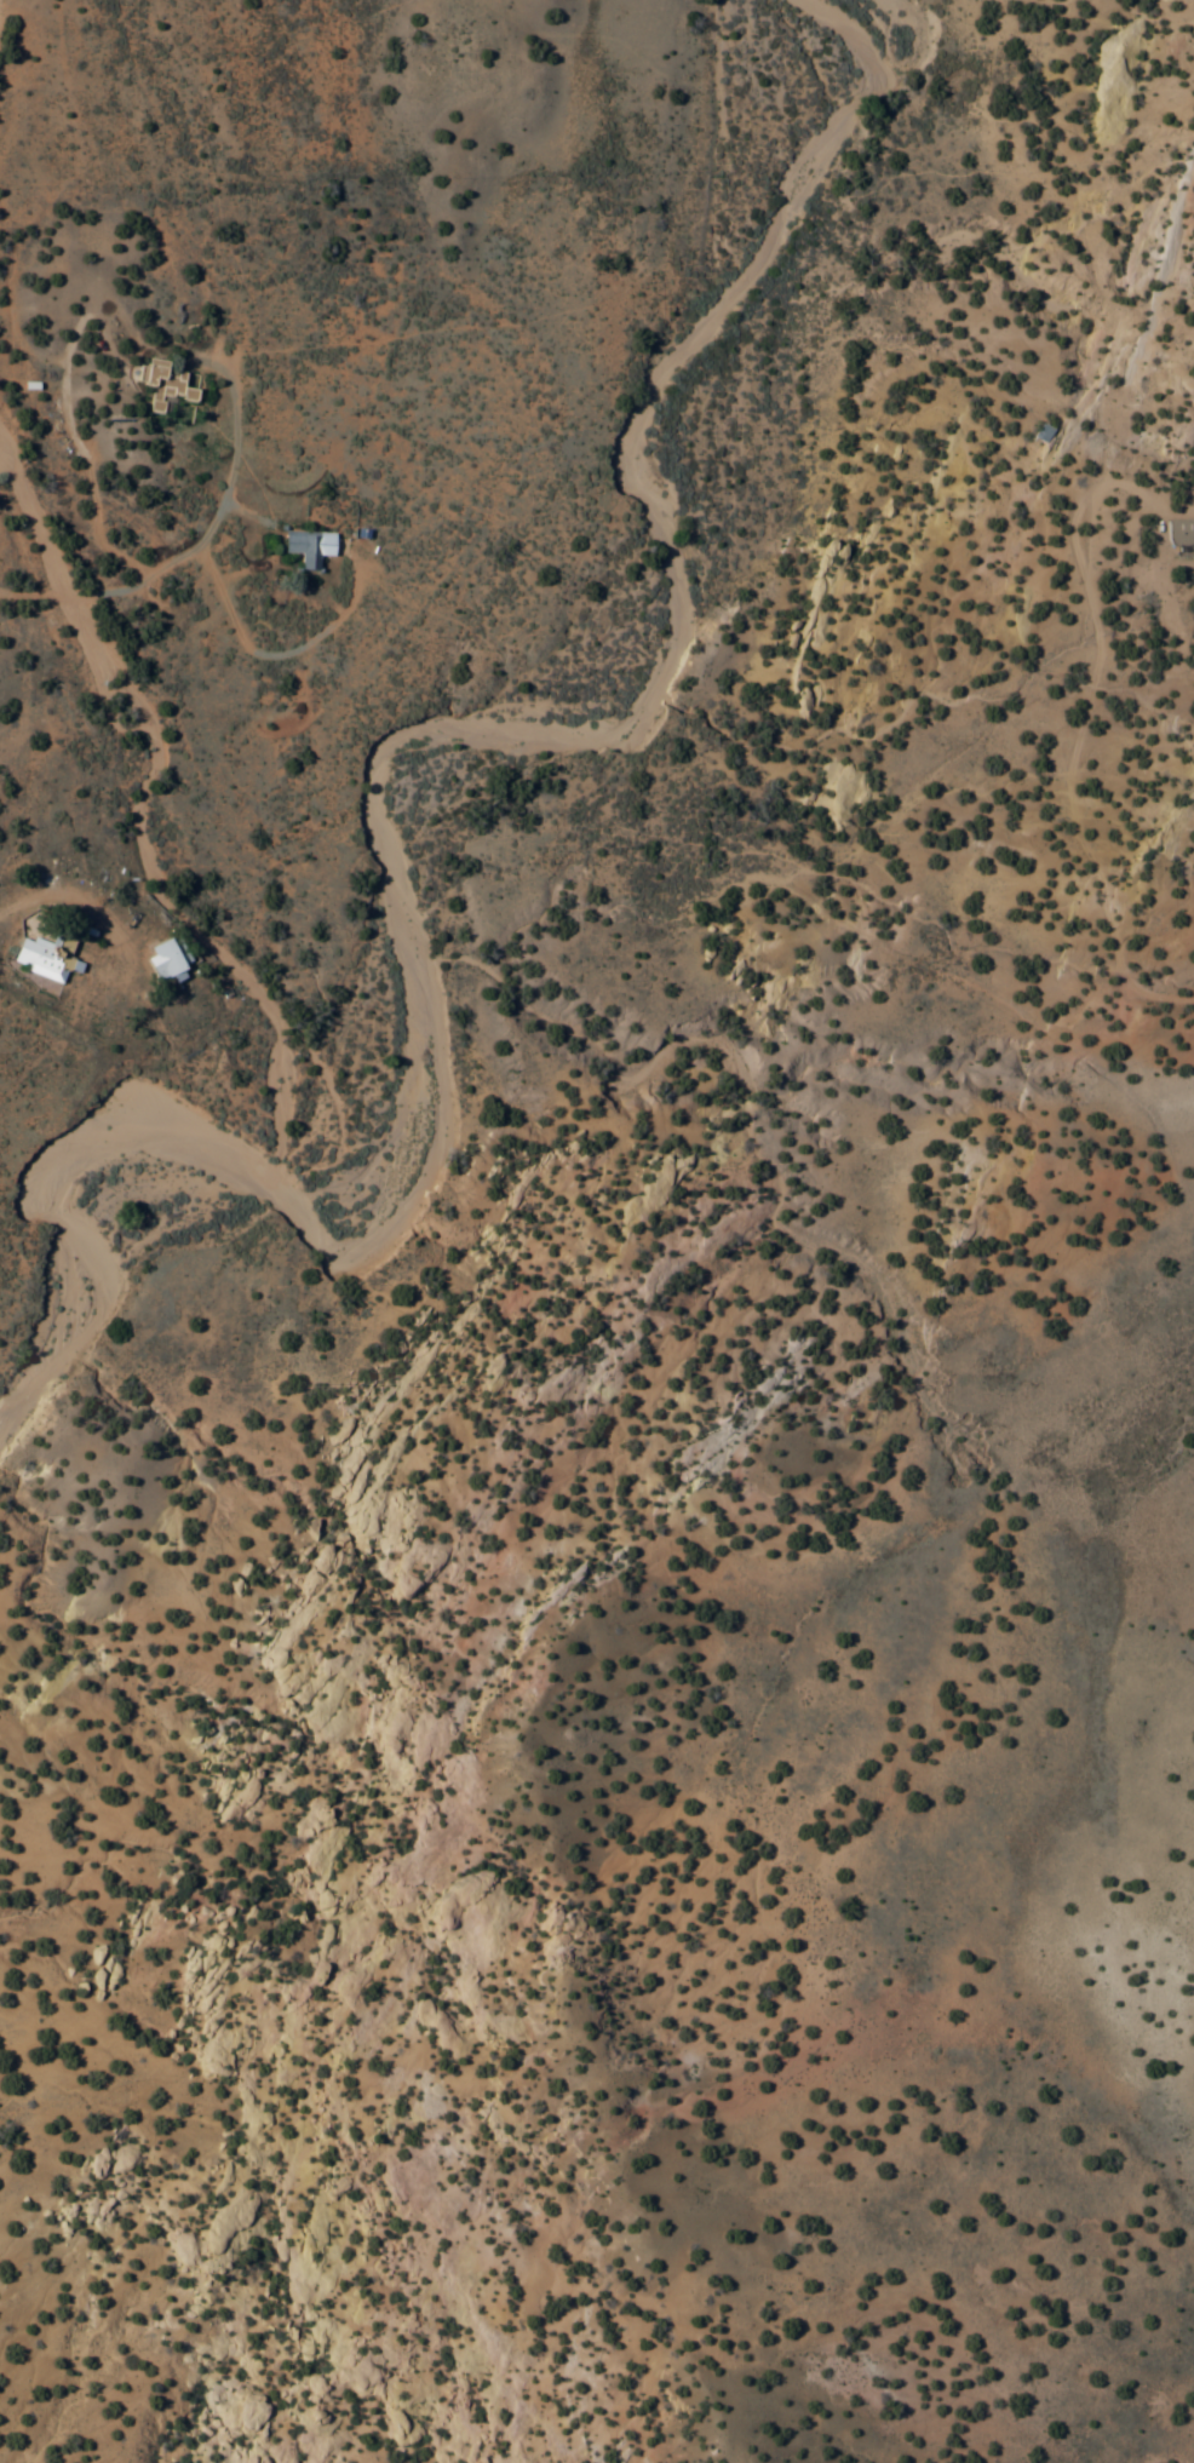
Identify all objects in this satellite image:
building: (160, 385)
building: (1037, 434)
building: (1179, 536)
building: (300, 549)
building: (45, 955)
building: (162, 960)

